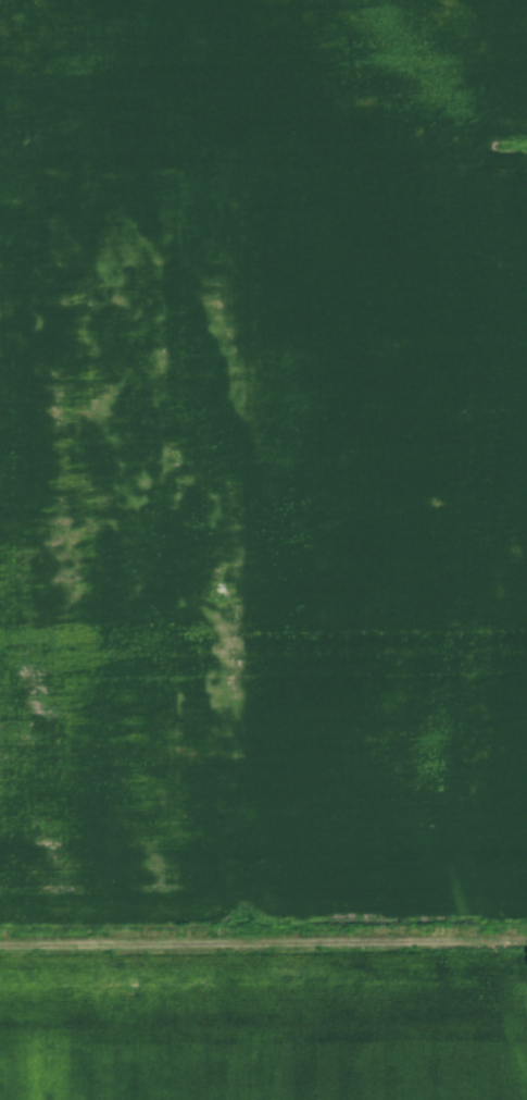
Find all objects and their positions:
crop: (263, 464)
road: (263, 941)
crop: (265, 1013)

